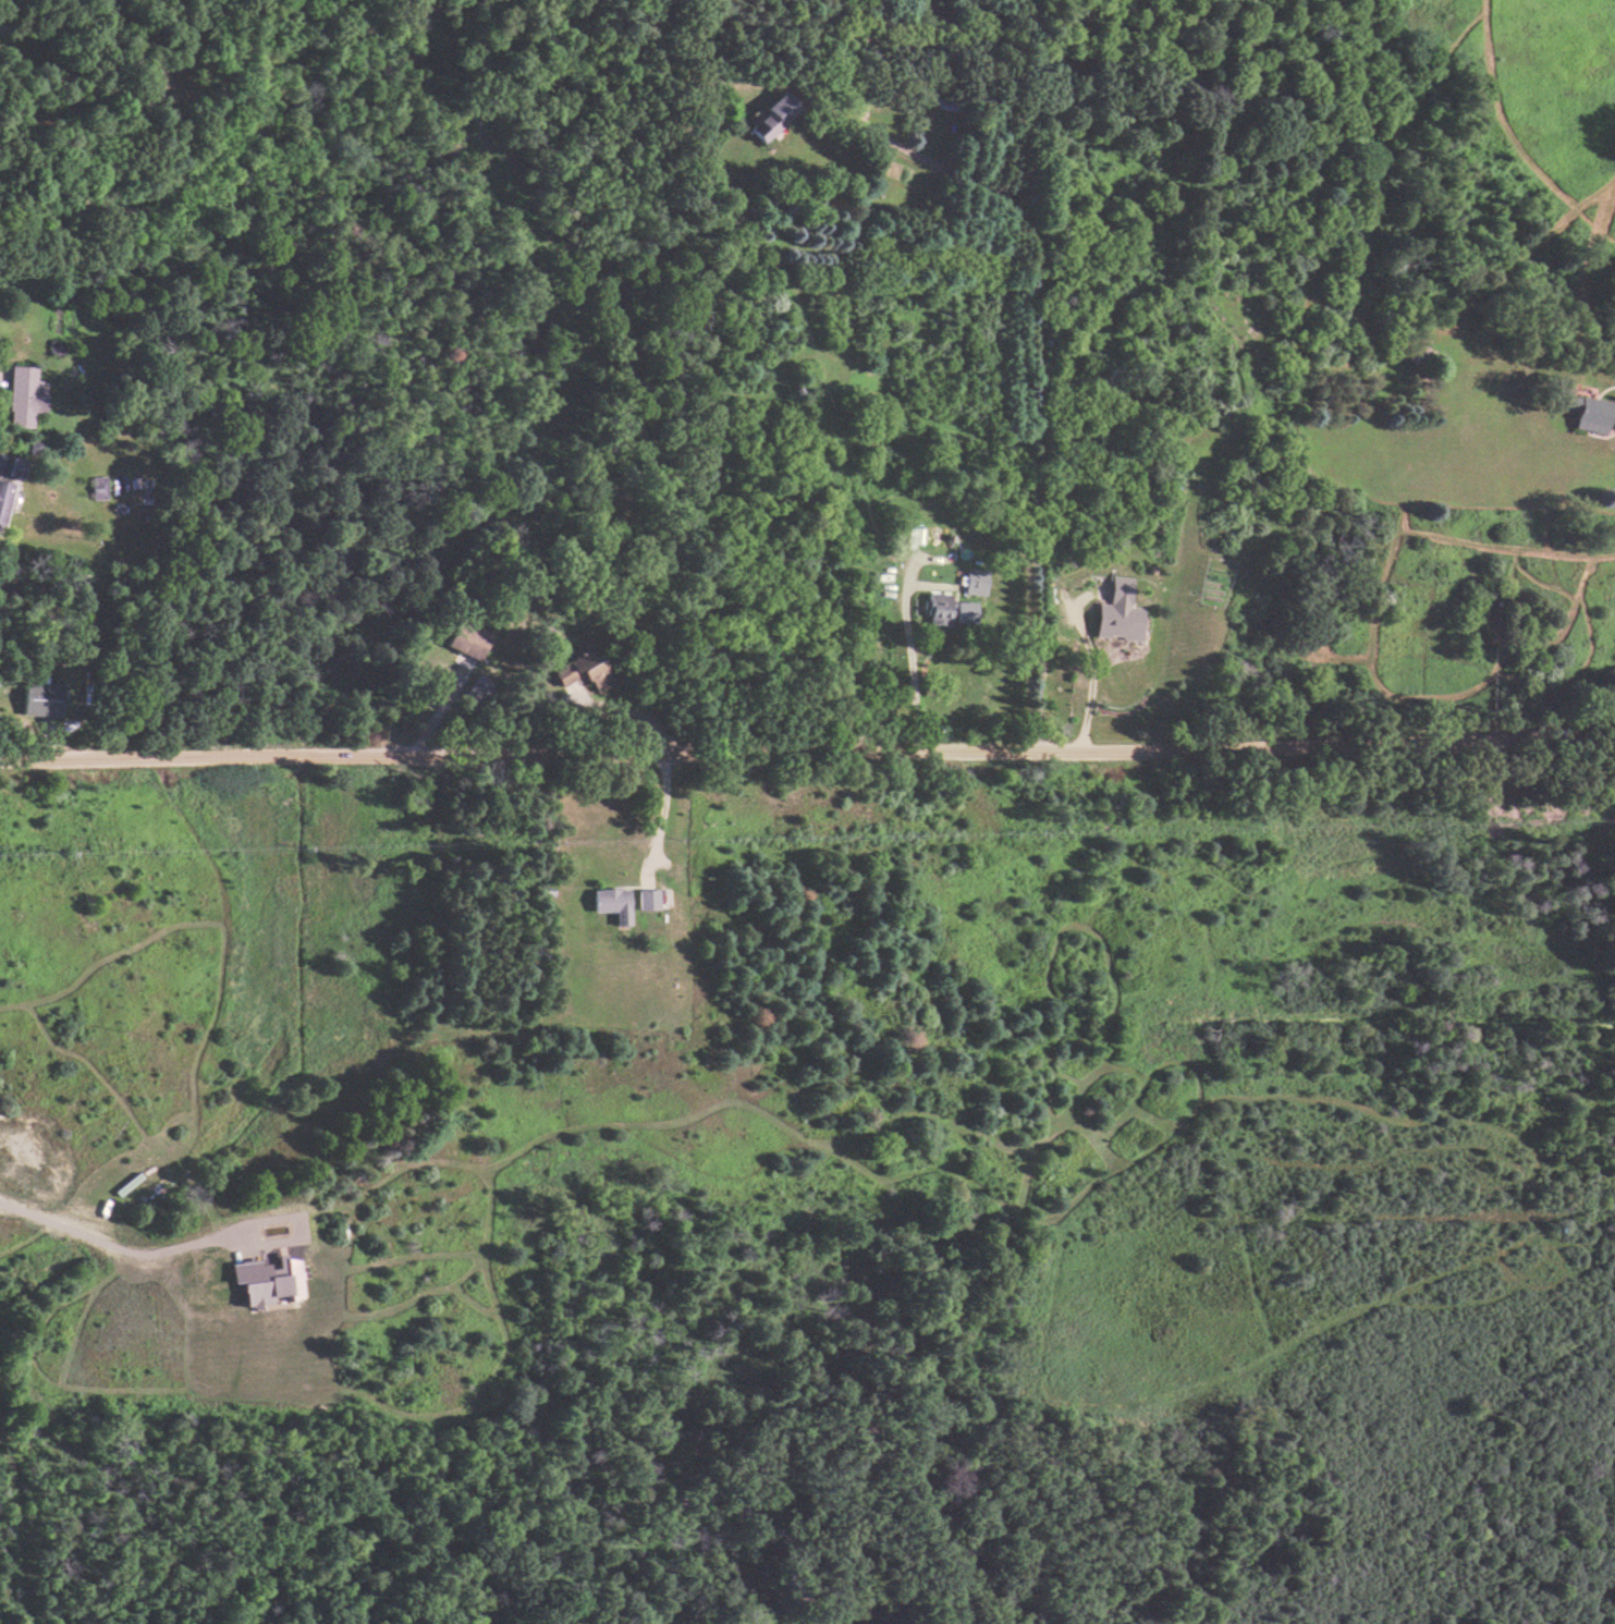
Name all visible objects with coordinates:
building: (770, 115)
road: (1032, 354)
building: (22, 396)
building: (1586, 412)
building: (10, 465)
building: (96, 487)
building: (3, 497)
building: (972, 581)
building: (935, 609)
building: (962, 611)
building: (1117, 612)
building: (465, 638)
road: (908, 667)
building: (578, 671)
road: (1089, 673)
building: (40, 698)
road: (620, 708)
road: (435, 709)
road: (811, 750)
road: (657, 816)
building: (645, 899)
building: (610, 903)
road: (117, 1247)
building: (262, 1280)

